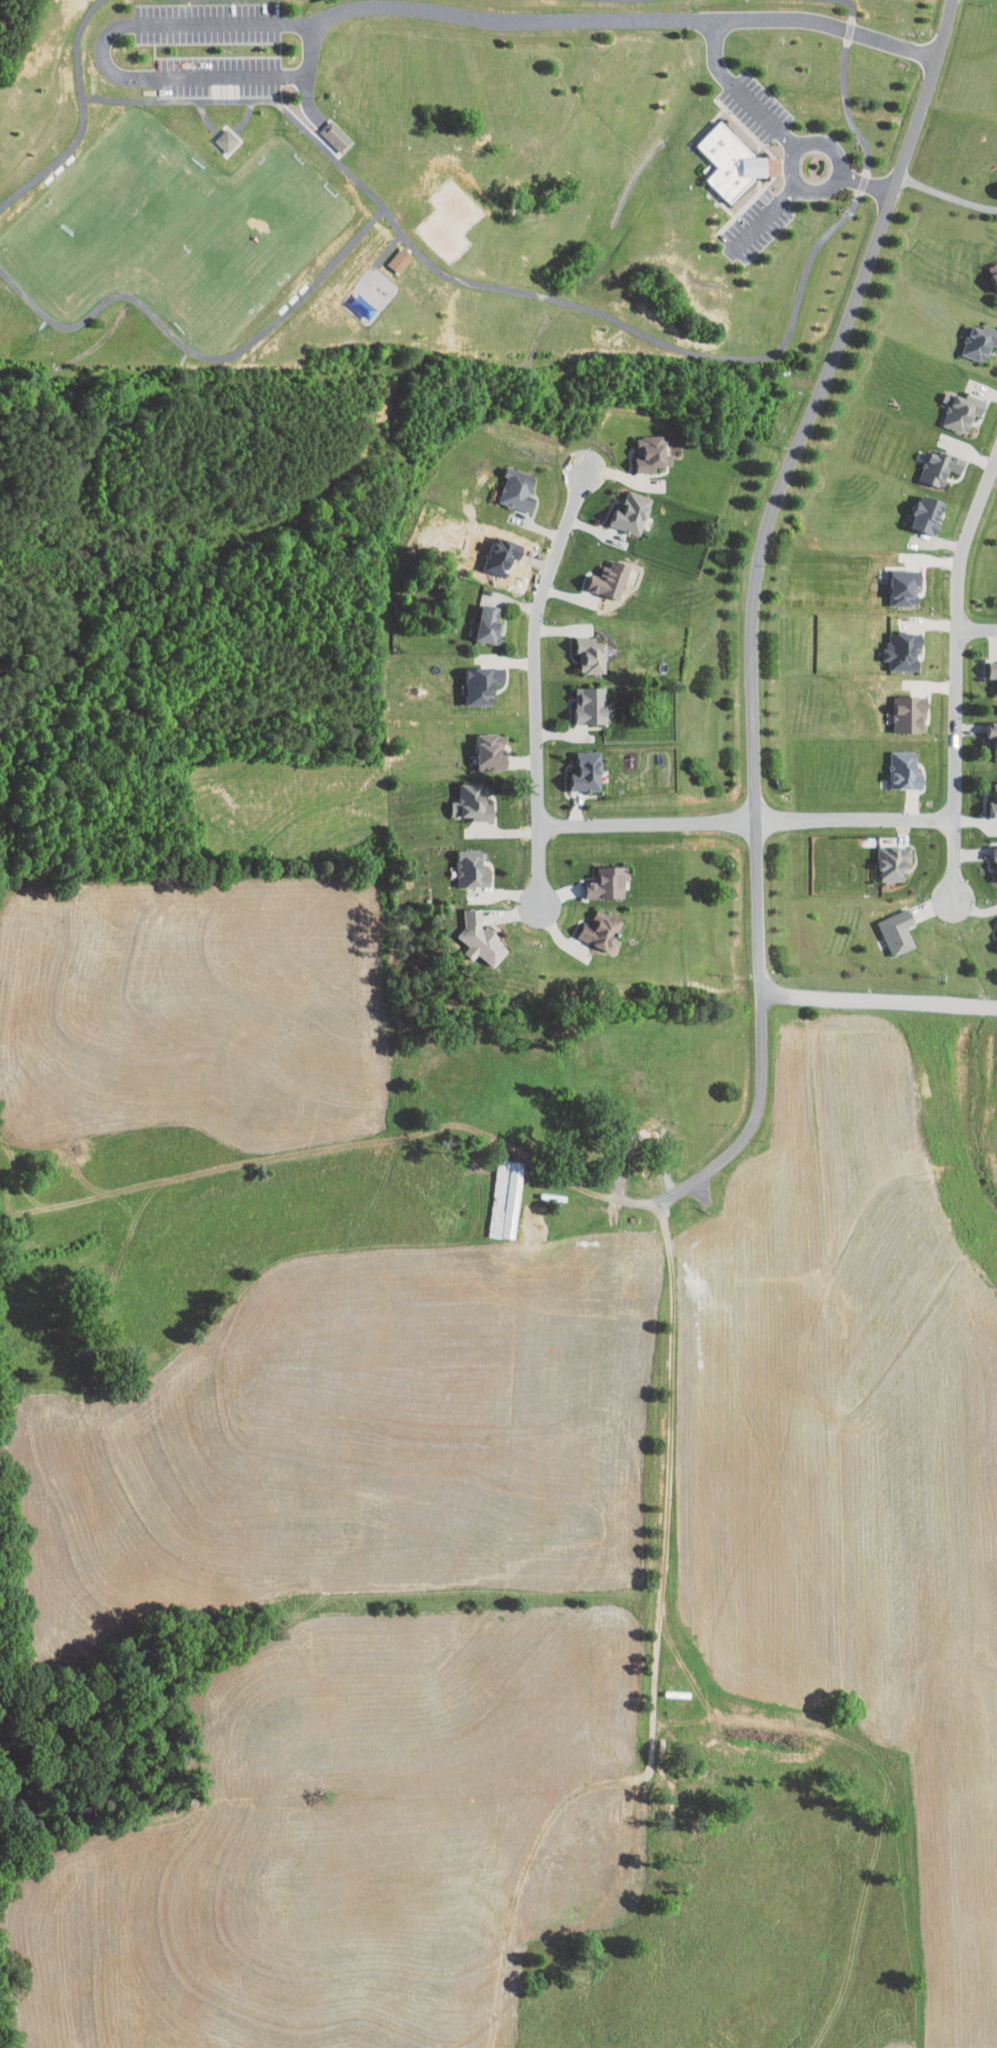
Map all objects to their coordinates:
road: (382, 6)
parking lot: (210, 23)
parking lot: (220, 76)
parking lot: (757, 107)
road: (780, 131)
building: (217, 134)
building: (334, 134)
building: (225, 140)
building: (728, 162)
road: (803, 186)
road: (946, 195)
road: (766, 215)
parking lot: (758, 226)
building: (392, 254)
building: (989, 271)
building: (973, 337)
building: (955, 407)
building: (642, 448)
building: (930, 462)
building: (510, 485)
building: (621, 507)
building: (922, 509)
building: (598, 573)
building: (483, 618)
road: (751, 622)
road: (978, 630)
building: (894, 646)
building: (582, 650)
building: (989, 670)
road: (957, 676)
building: (473, 679)
road: (538, 684)
building: (582, 701)
building: (901, 709)
building: (988, 735)
building: (480, 746)
building: (898, 765)
building: (577, 766)
building: (989, 796)
building: (465, 797)
road: (748, 817)
building: (885, 858)
building: (988, 858)
building: (463, 862)
building: (599, 878)
building: (592, 925)
building: (889, 926)
building: (993, 929)
building: (473, 934)
road: (881, 999)
road: (671, 1148)
road: (577, 1186)
building: (523, 1212)
road: (658, 1442)

